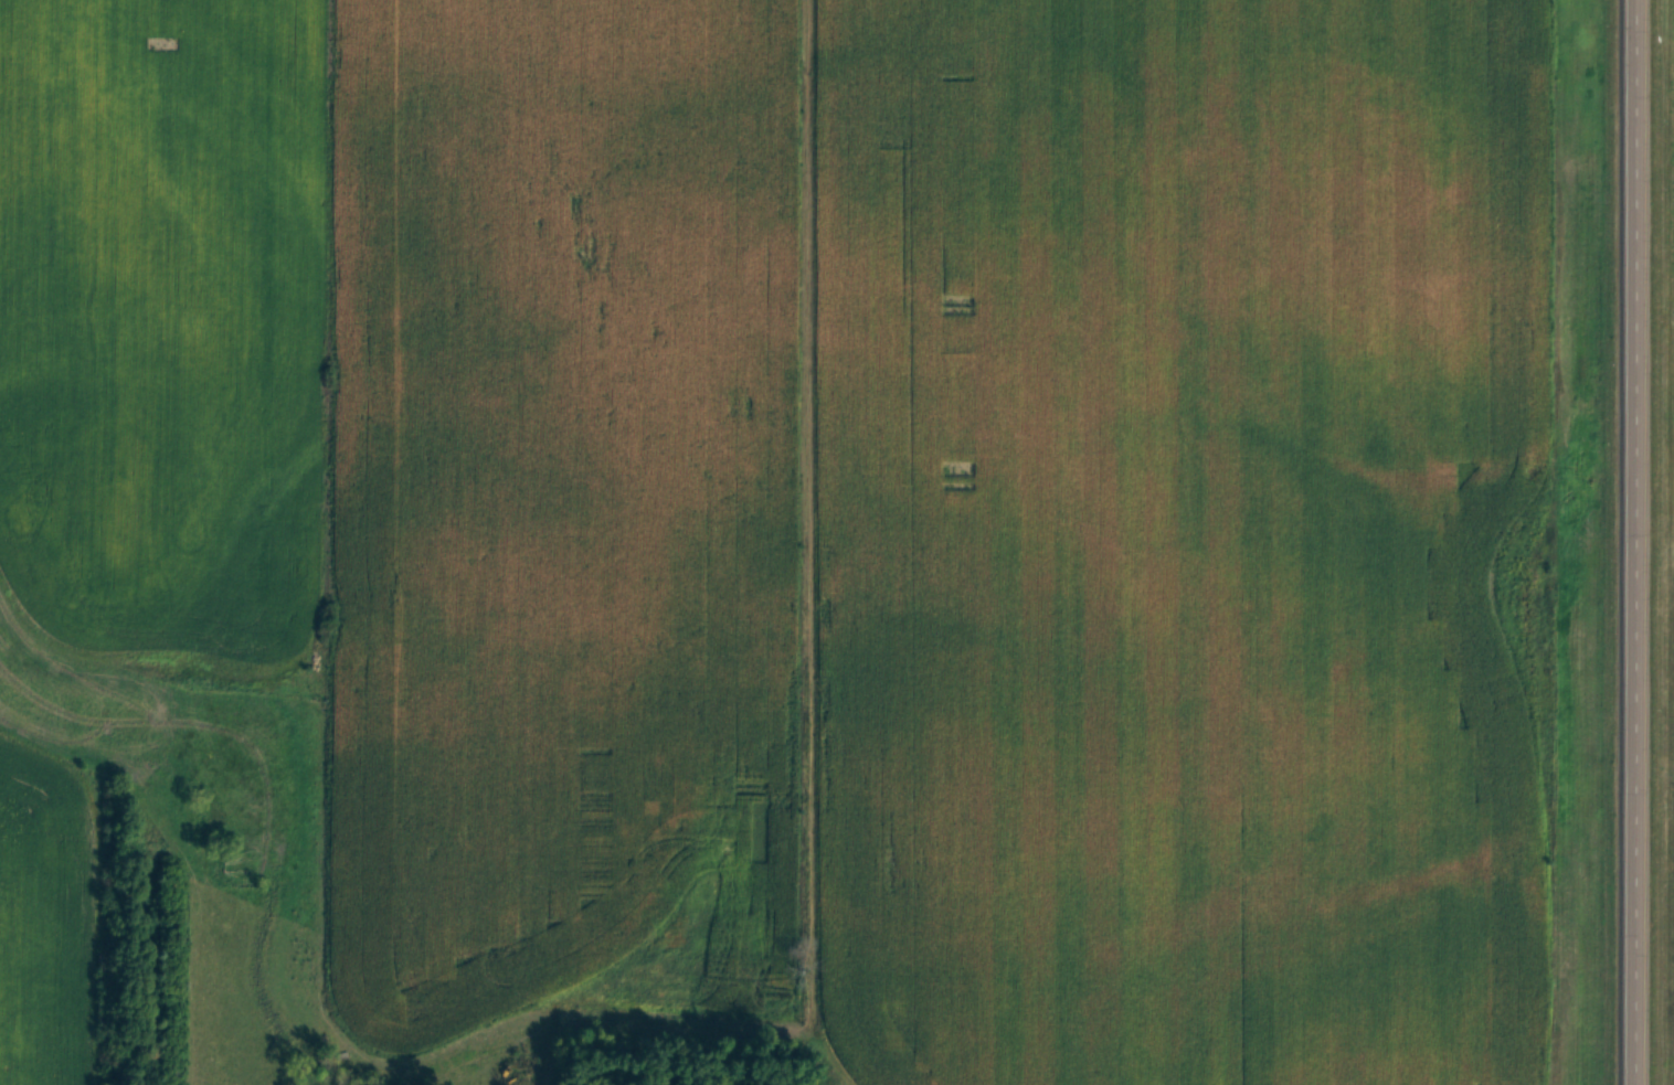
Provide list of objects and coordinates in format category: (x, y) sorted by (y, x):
road: (1628, 542)

